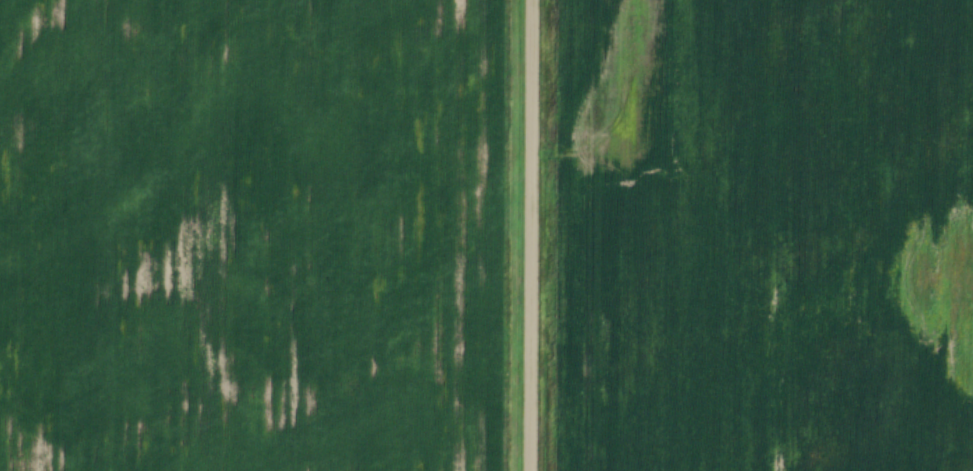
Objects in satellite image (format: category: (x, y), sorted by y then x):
road: (531, 235)

